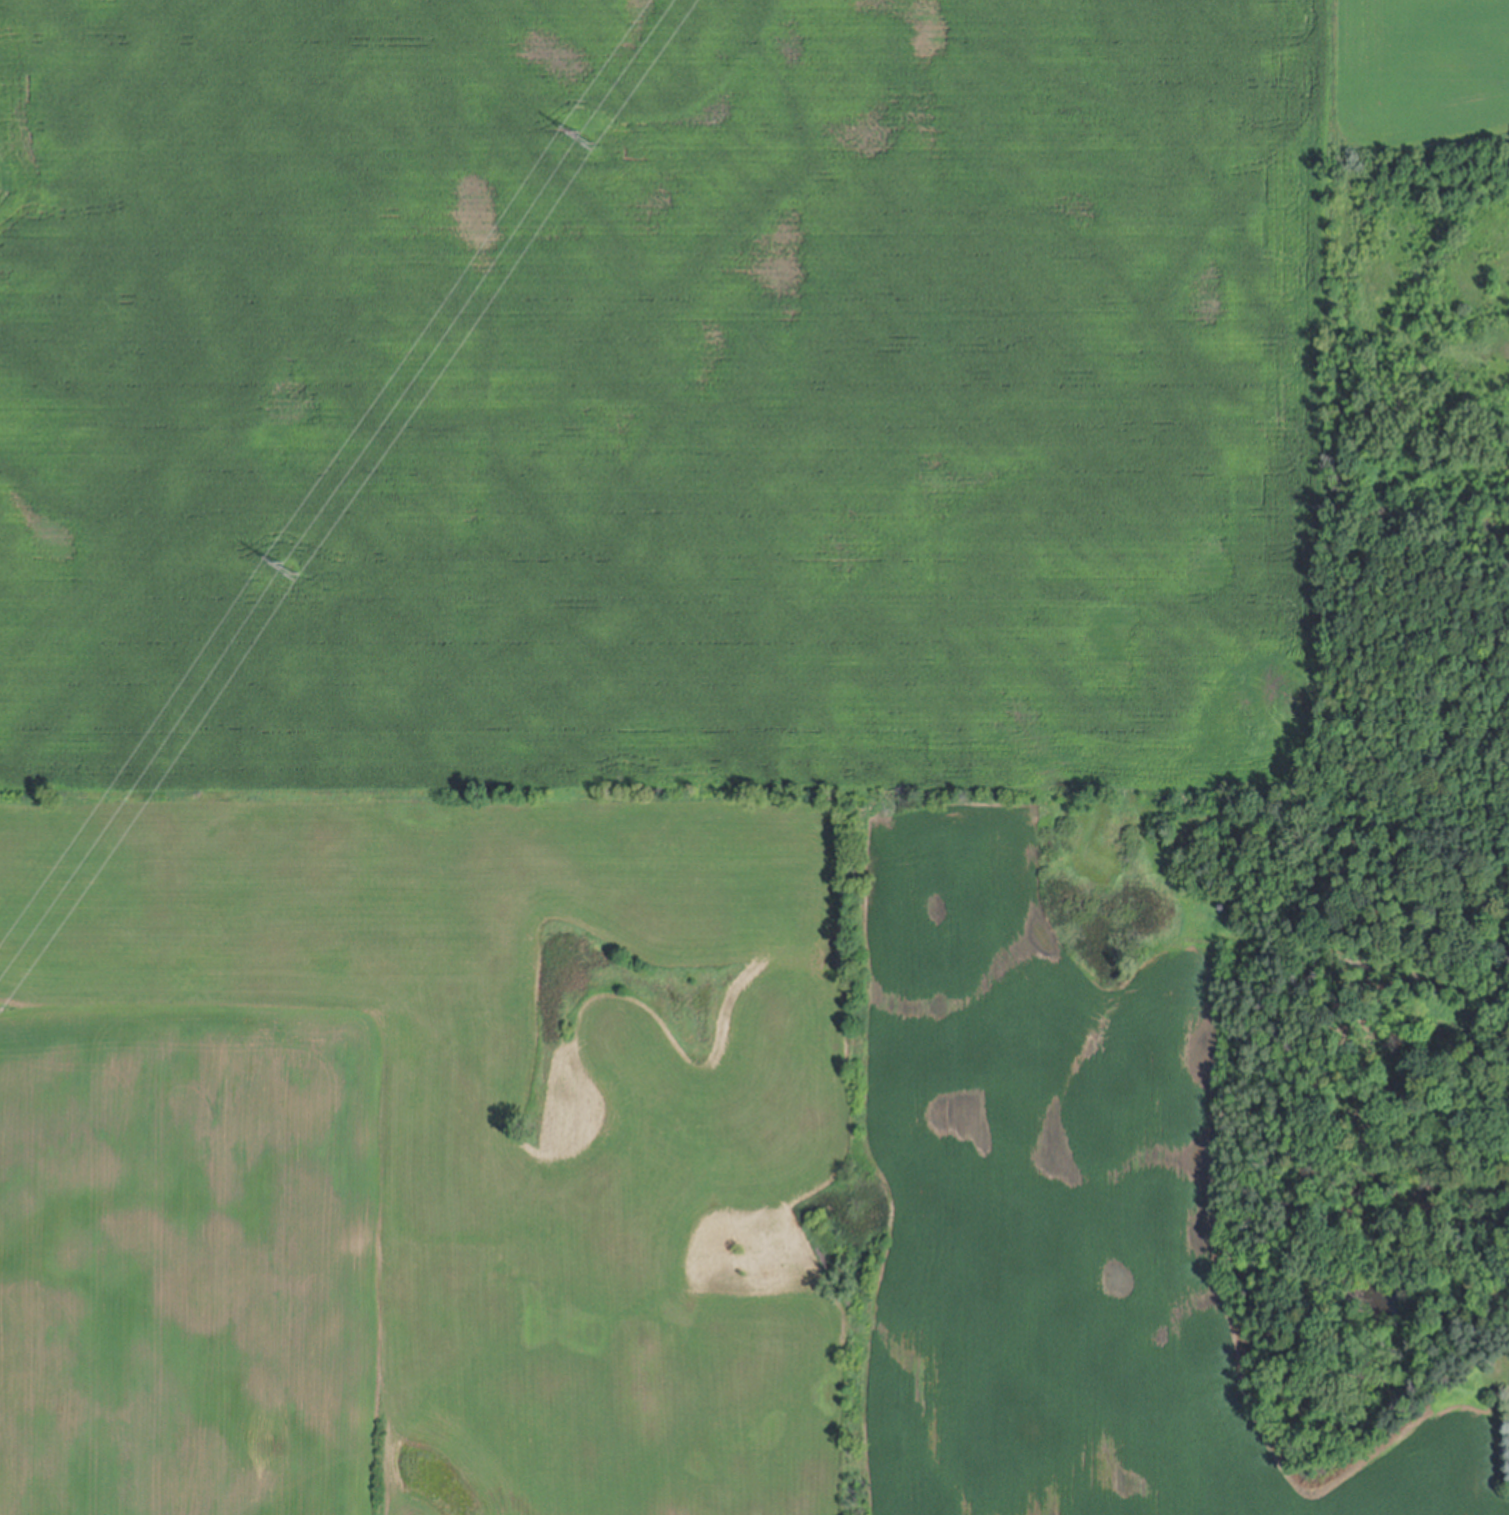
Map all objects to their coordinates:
power tower: (586, 135)
quarry: (1413, 440)
power tower: (288, 569)

